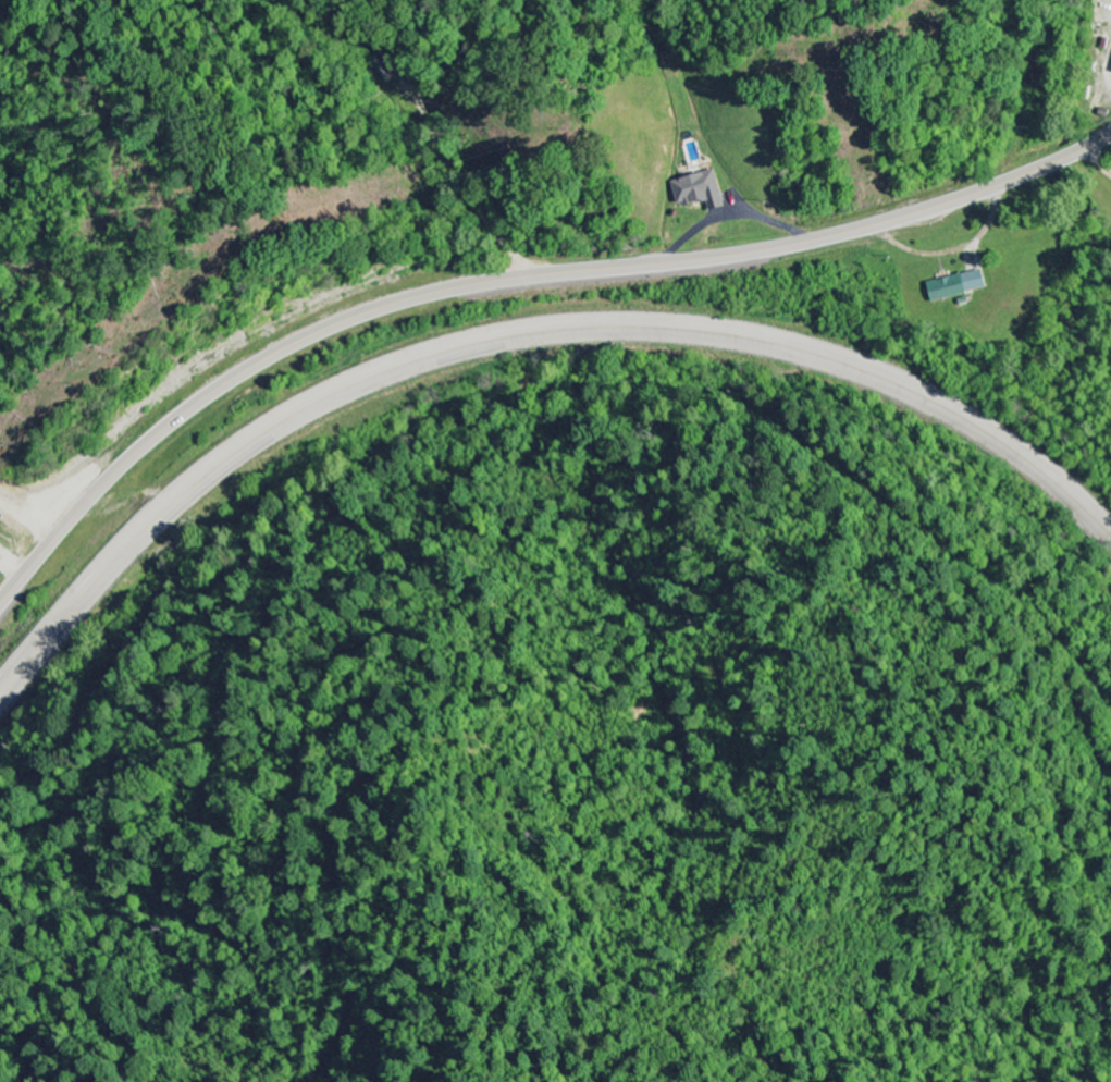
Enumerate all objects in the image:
building: (702, 192)
road: (510, 279)
building: (959, 286)
road: (519, 335)

